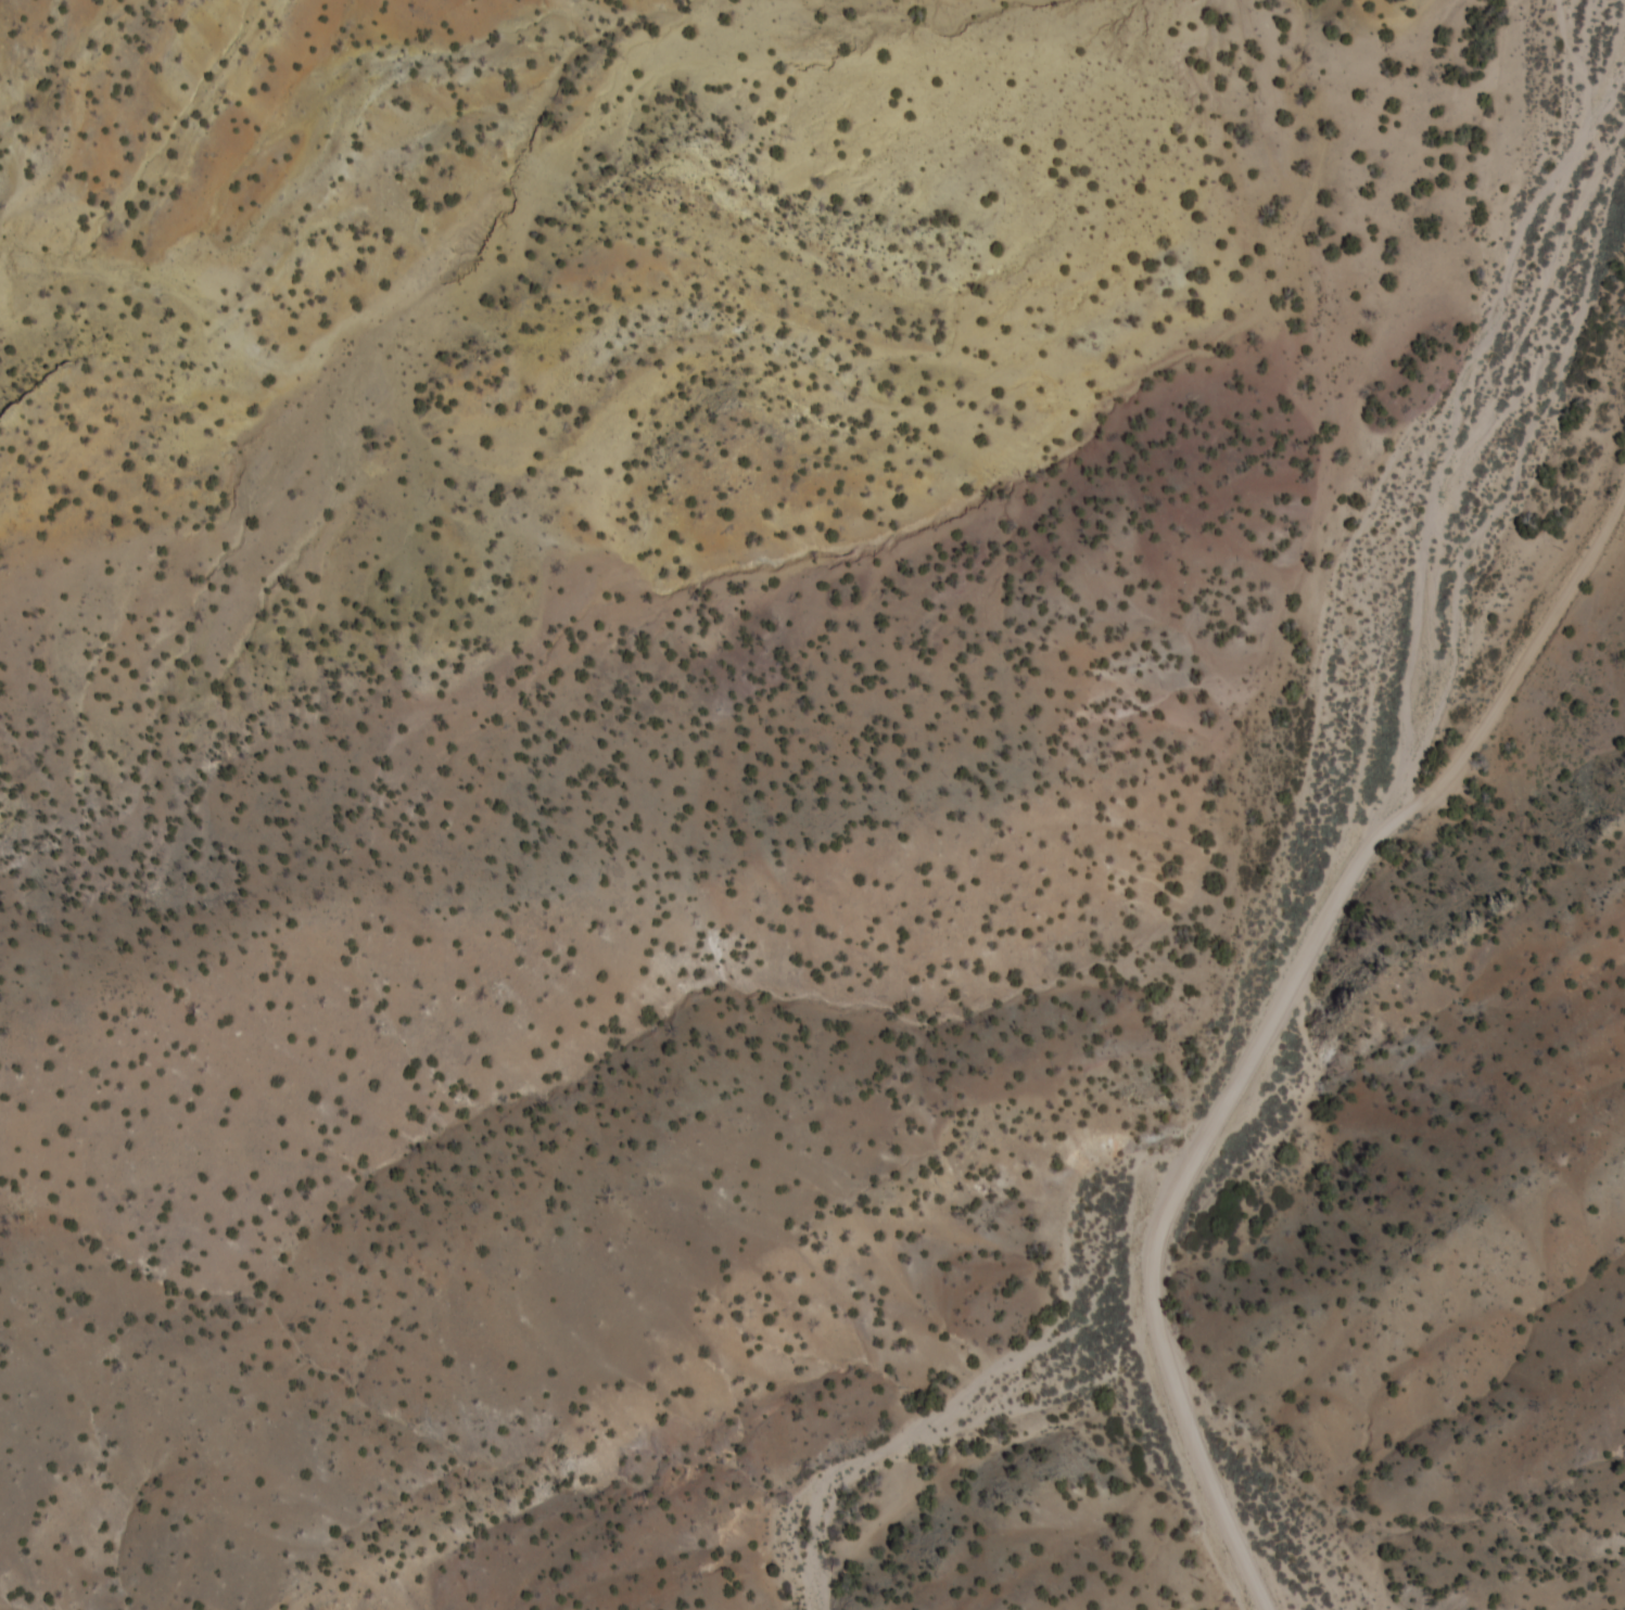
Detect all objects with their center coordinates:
road: (1272, 1020)

